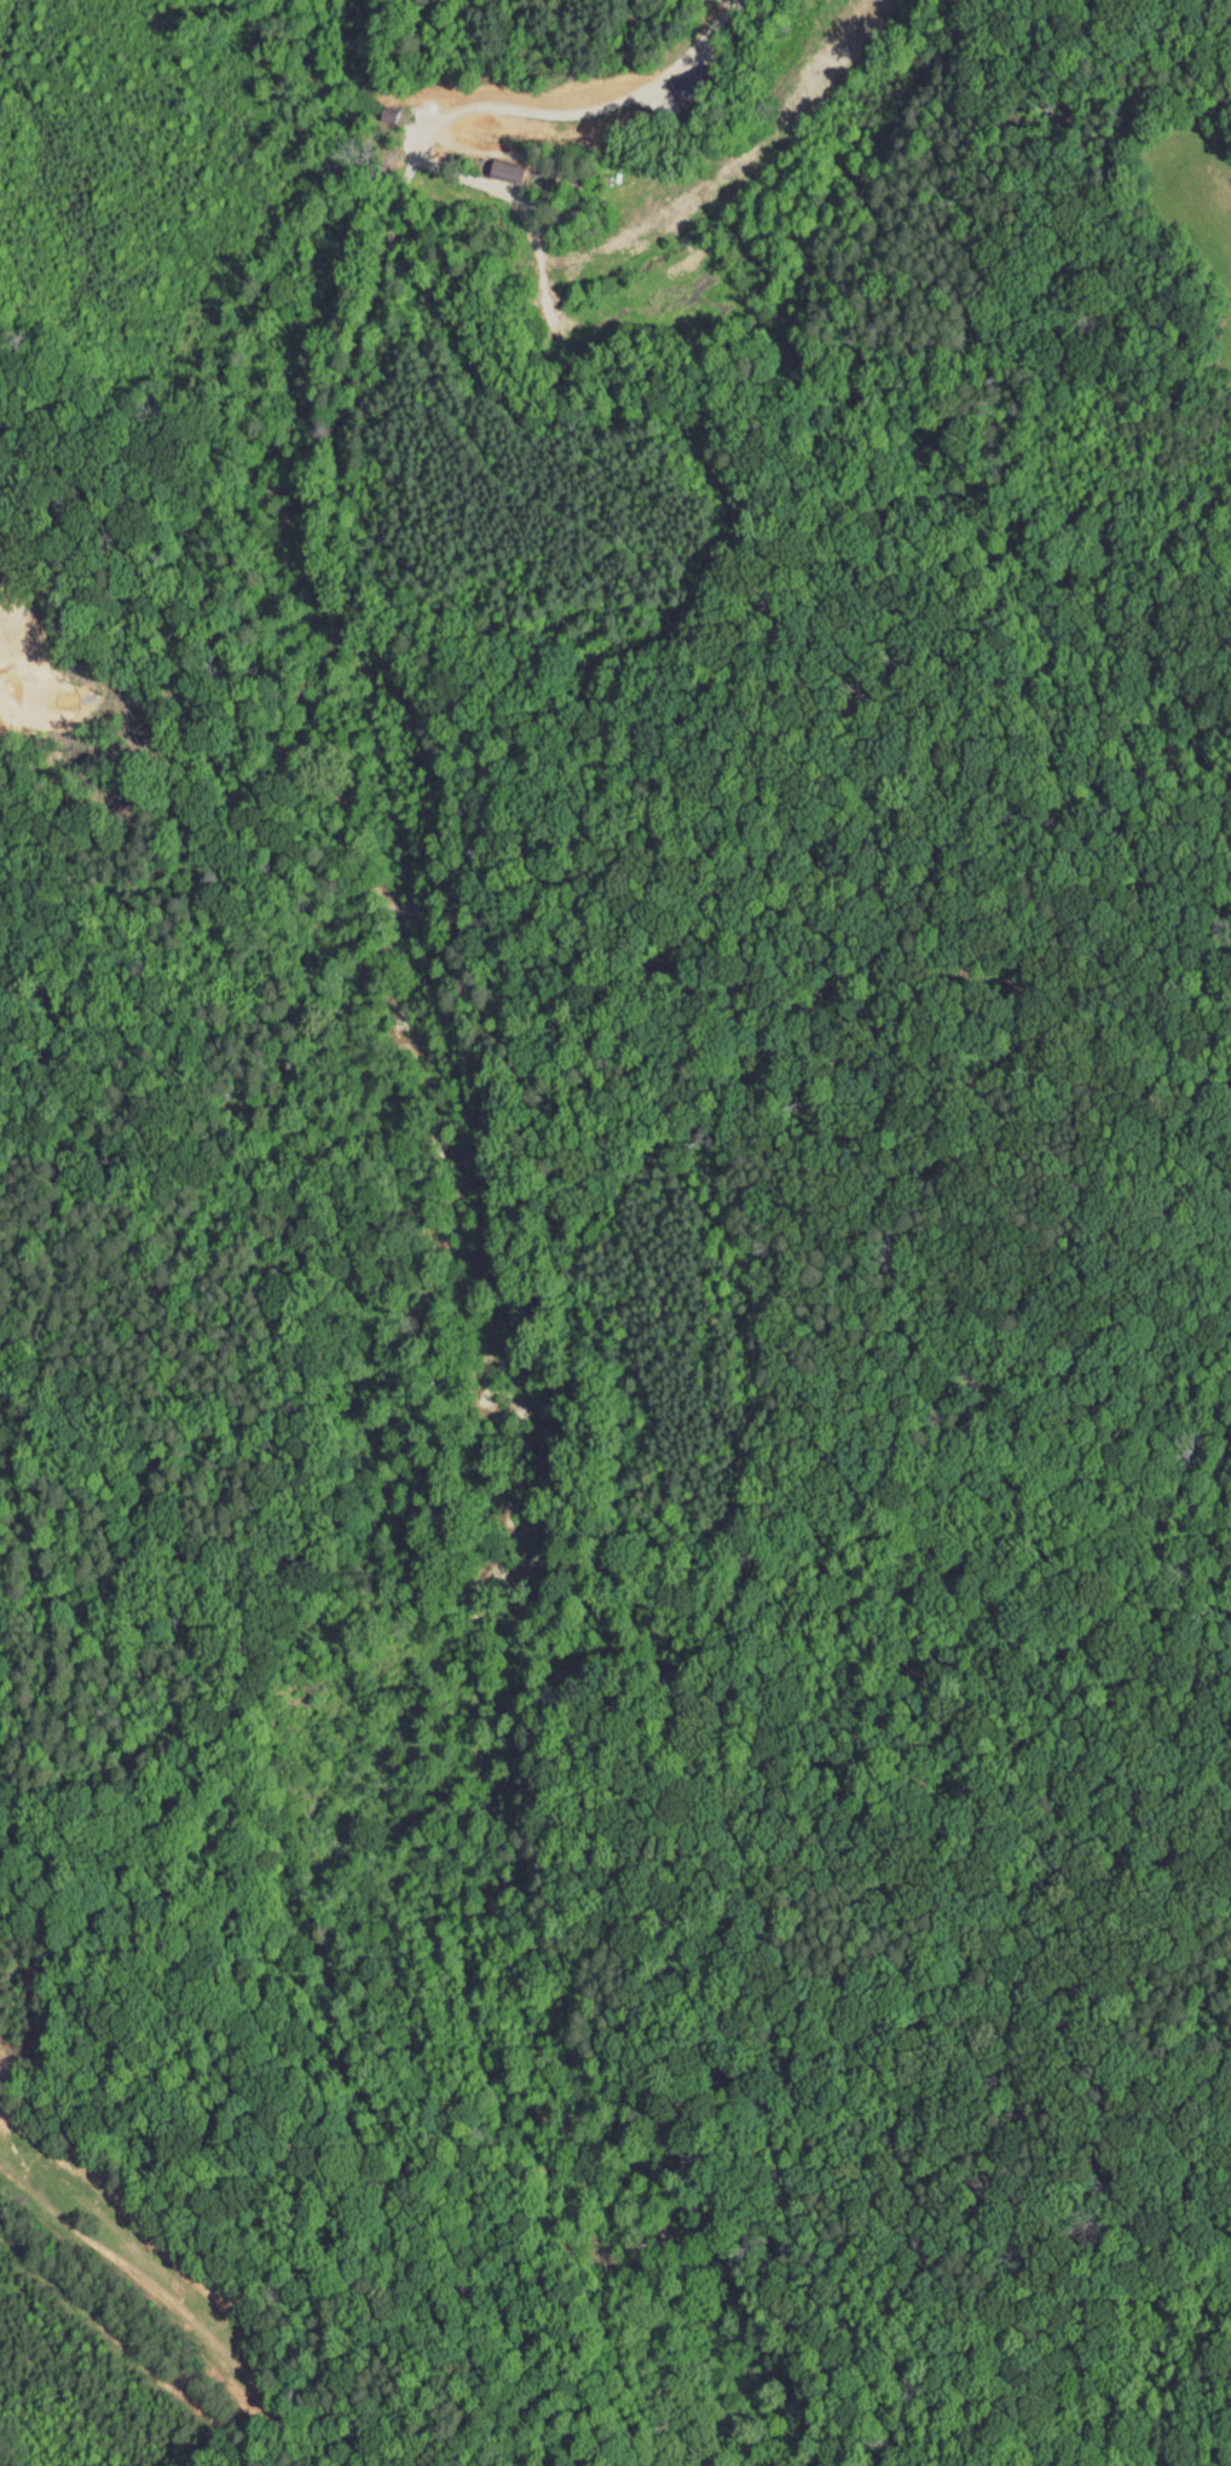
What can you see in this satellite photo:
road: (561, 117)
building: (491, 162)

